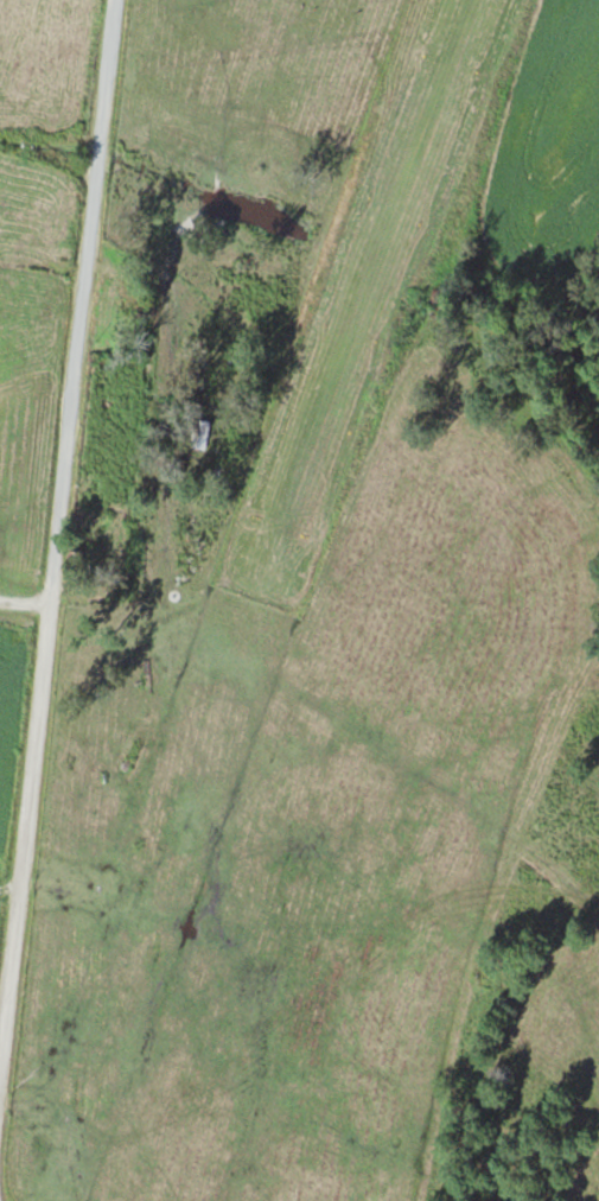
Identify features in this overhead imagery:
airport runway: (369, 296)
airport: (362, 297)
road: (57, 509)
road: (23, 599)

